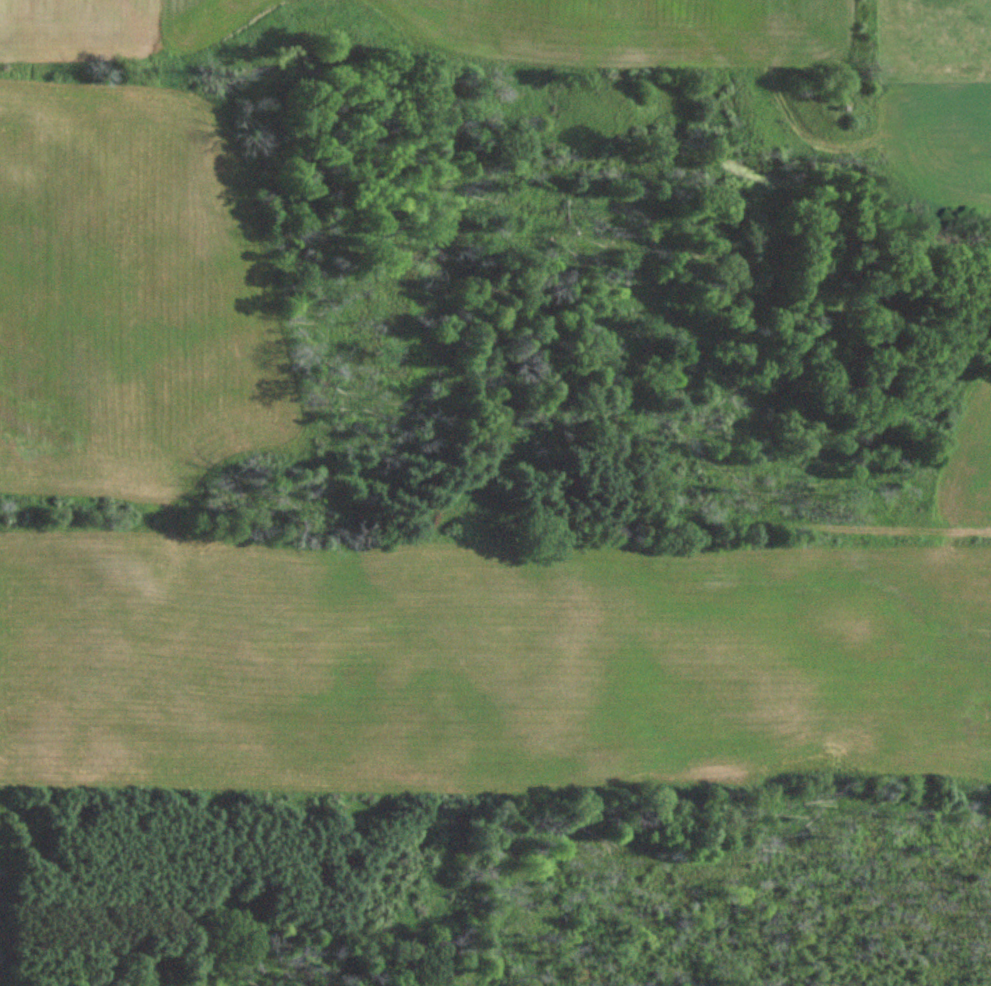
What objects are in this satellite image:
road: (754, 544)

